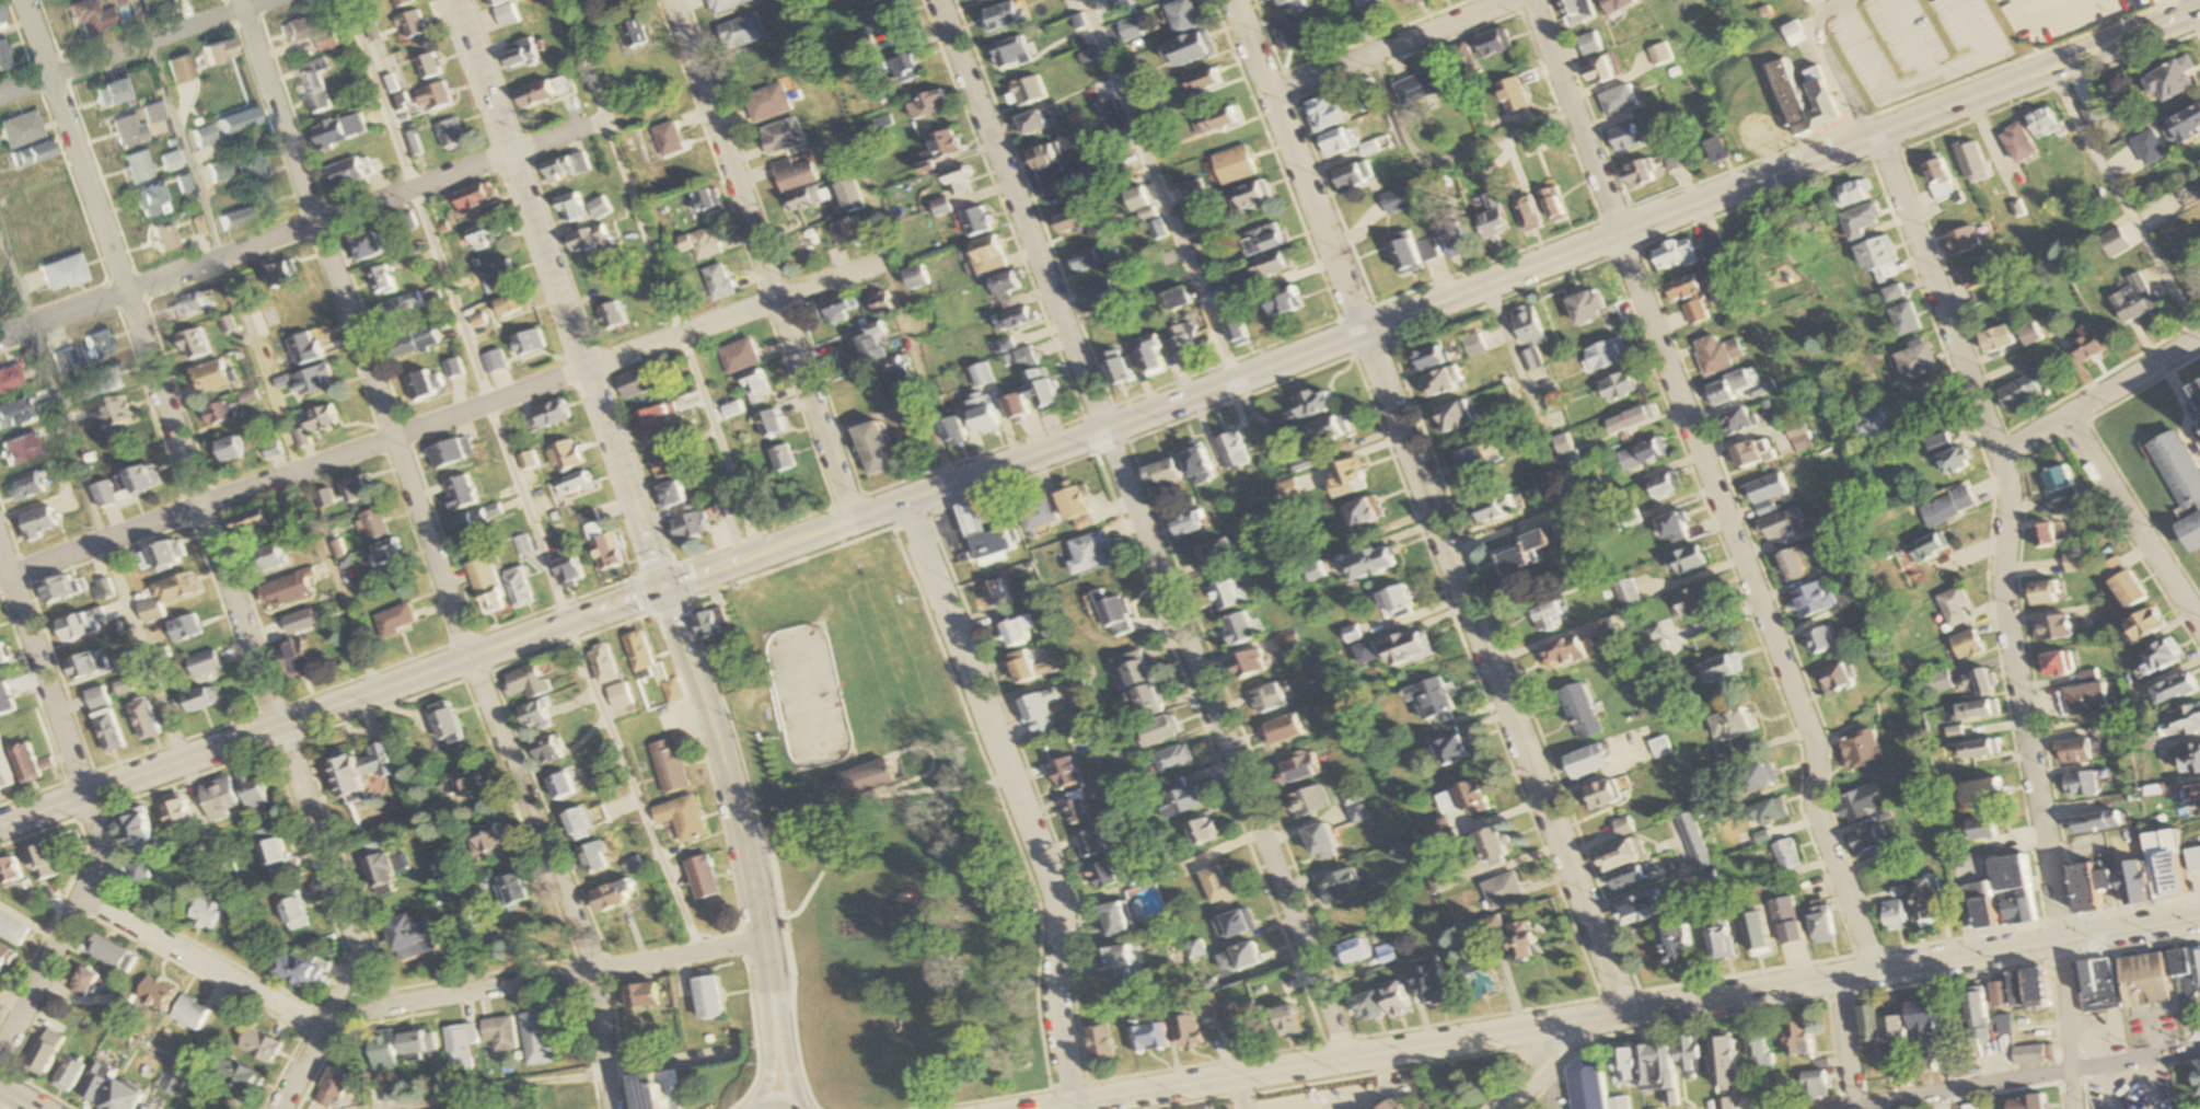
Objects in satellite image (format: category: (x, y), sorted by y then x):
road: (2057, 14)
road: (1917, 37)
road: (1253, 45)
road: (1394, 45)
road: (134, 47)
road: (1840, 62)
road: (1925, 80)
road: (1419, 154)
road: (1780, 170)
road: (1161, 189)
road: (2123, 203)
road: (1317, 209)
road: (302, 226)
road: (765, 258)
road: (660, 277)
road: (561, 294)
road: (1447, 320)
road: (907, 334)
road: (254, 345)
road: (2100, 396)
road: (443, 419)
road: (1014, 460)
road: (519, 478)
road: (1715, 482)
road: (91, 496)
road: (2133, 520)
road: (1145, 529)
road: (436, 553)
road: (221, 557)
traffic signals: (667, 590)
road: (691, 599)
road: (2004, 611)
road: (1493, 670)
road: (332, 705)
road: (927, 748)
building: (867, 776)
road: (1016, 797)
road: (92, 808)
road: (859, 812)
road: (740, 819)
park: (883, 840)
road: (771, 851)
road: (732, 859)
building: (789, 923)
road: (720, 938)
road: (1912, 963)
road: (373, 970)
road: (408, 1000)
road: (1586, 1020)
road: (1844, 1042)
road: (1296, 1066)
road: (1535, 1072)
road: (1352, 1076)
road: (2019, 1082)
road: (201, 1083)
road: (790, 1084)
road: (779, 1085)
road: (2146, 1085)
road: (773, 1086)
road: (37, 1088)
road: (2108, 1088)
road: (503, 1090)
building: (658, 1090)
road: (1239, 1093)
road: (1357, 1096)
road: (20, 1097)
road: (989, 1100)
road: (1948, 1100)
road: (778, 1101)
road: (1075, 1107)

